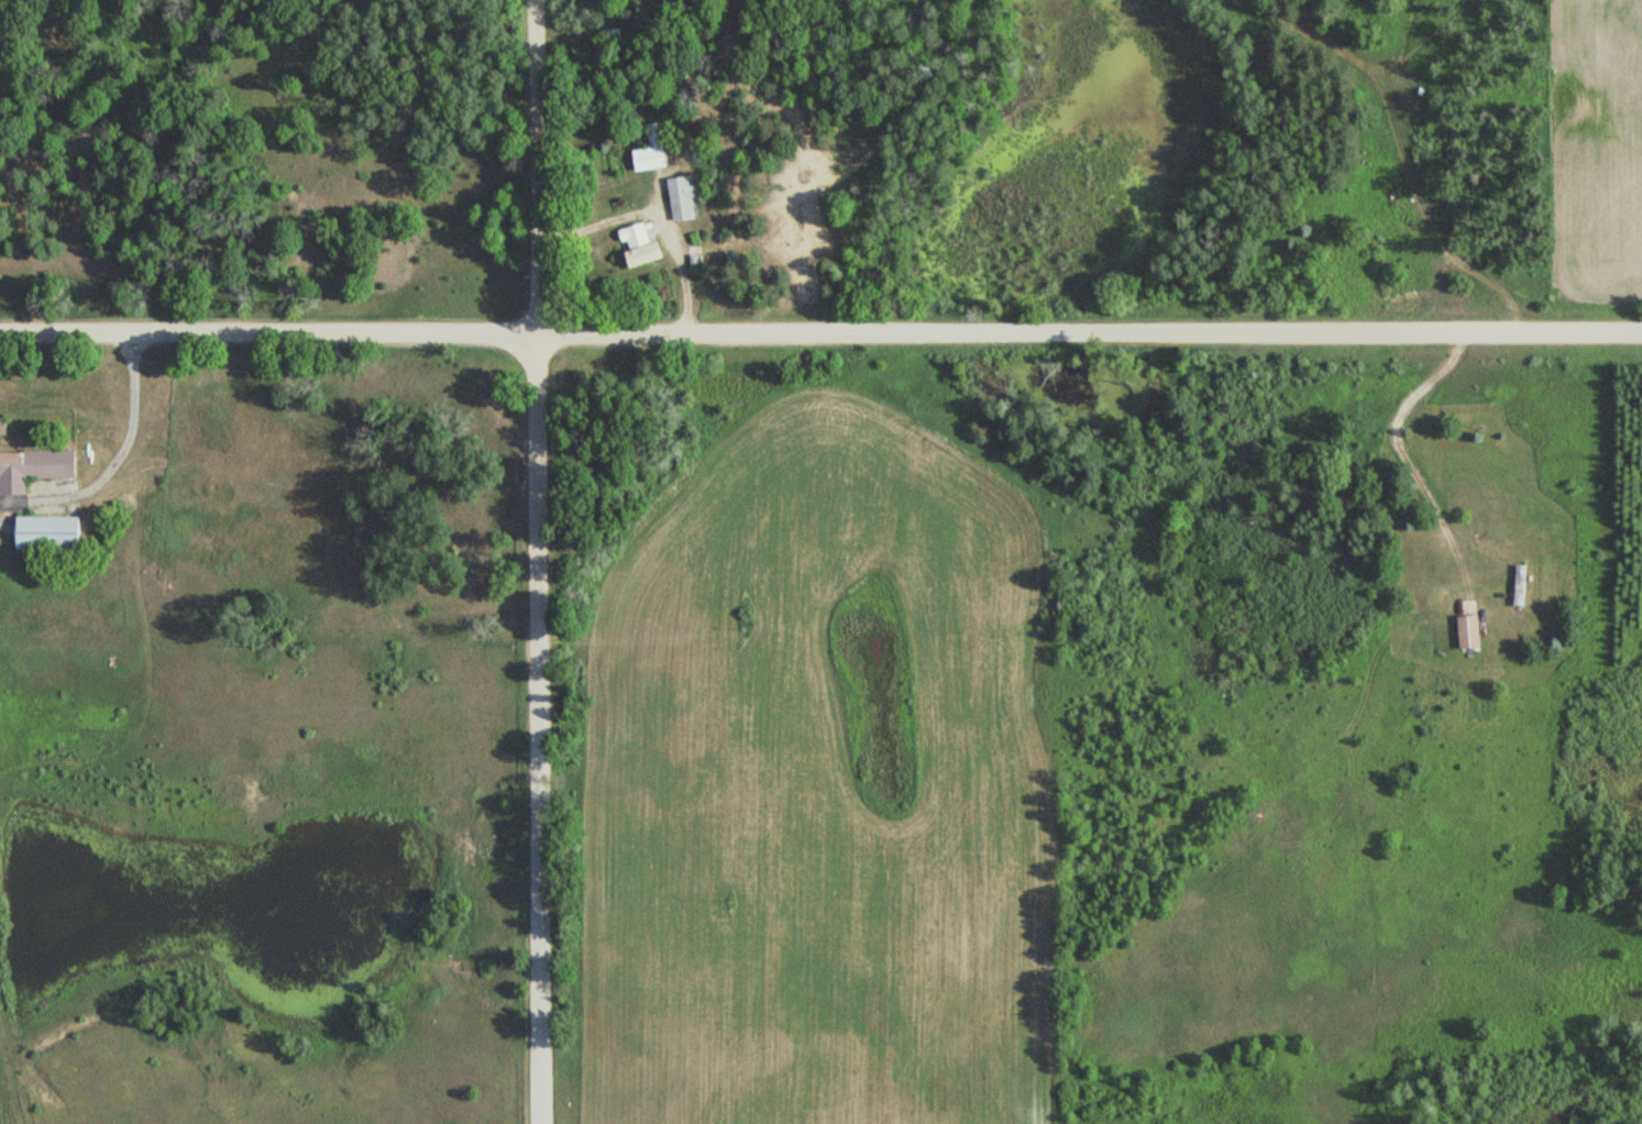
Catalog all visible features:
building: (653, 150)
building: (686, 197)
building: (637, 235)
road: (820, 357)
building: (5, 427)
building: (36, 469)
building: (53, 532)
road: (537, 562)
building: (1473, 630)

